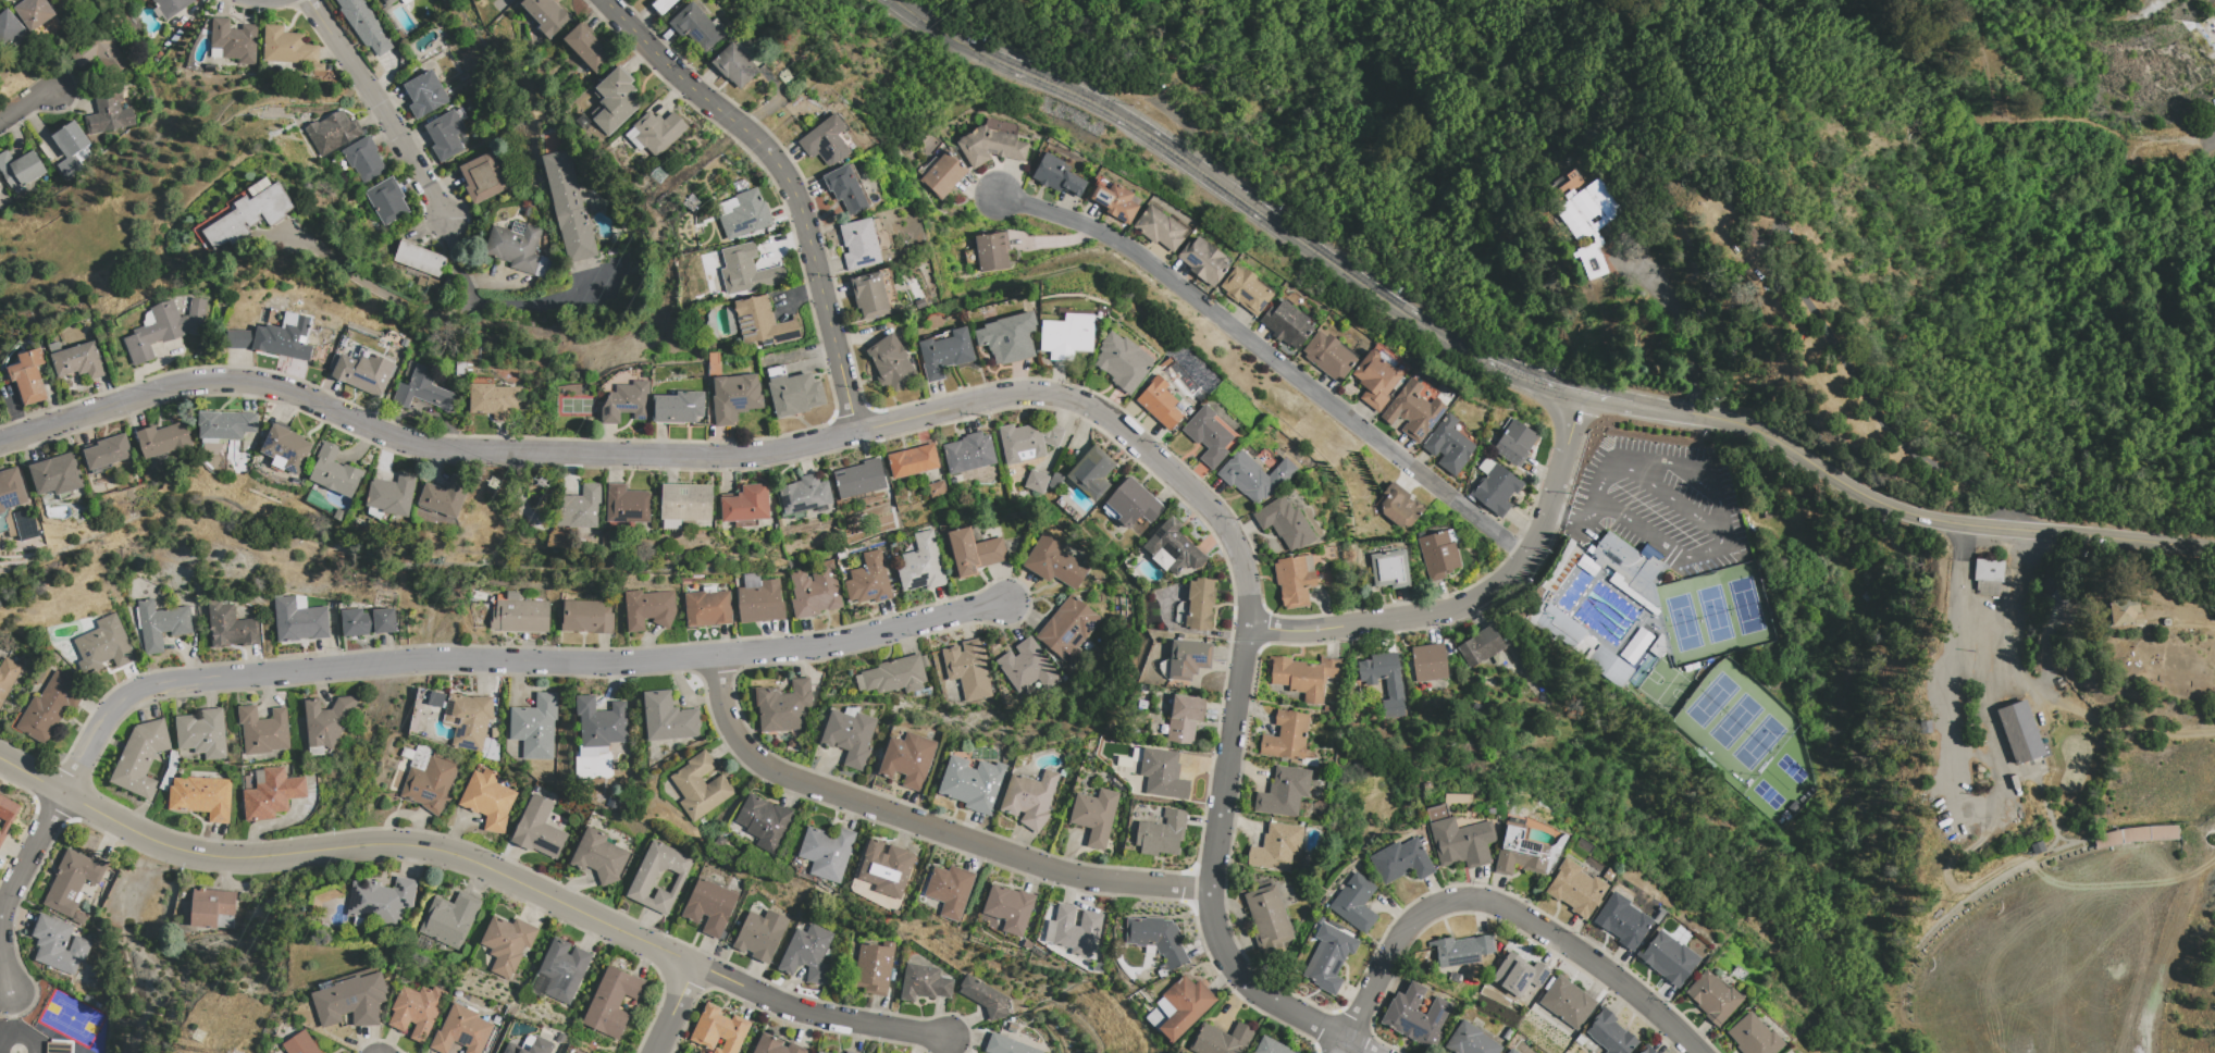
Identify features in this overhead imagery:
building: (389, 2)
building: (664, 5)
building: (170, 7)
park: (977, 7)
building: (34, 13)
dam: (2205, 14)
building: (547, 15)
building: (540, 18)
building: (366, 24)
building: (696, 27)
building: (8, 28)
building: (234, 40)
building: (289, 48)
building: (100, 49)
building: (587, 49)
building: (215, 52)
building: (735, 65)
building: (425, 94)
building: (616, 100)
road: (26, 104)
road: (379, 106)
building: (108, 112)
road: (2050, 120)
building: (658, 132)
building: (333, 133)
building: (445, 135)
building: (827, 141)
building: (991, 146)
building: (71, 148)
building: (82, 154)
building: (364, 159)
road: (1191, 165)
building: (21, 169)
building: (944, 174)
building: (1055, 174)
power tower: (666, 177)
building: (483, 178)
road: (787, 182)
building: (260, 187)
building: (847, 189)
building: (387, 200)
building: (1114, 201)
power tower: (694, 203)
building: (729, 206)
building: (569, 207)
building: (746, 215)
building: (247, 216)
building: (1585, 218)
building: (1160, 228)
building: (861, 244)
building: (516, 246)
building: (989, 251)
building: (419, 258)
building: (1204, 261)
building: (541, 267)
building: (747, 271)
building: (426, 282)
building: (1246, 289)
building: (870, 295)
building: (920, 303)
road: (495, 305)
building: (764, 322)
road: (1680, 322)
building: (1287, 324)
building: (164, 329)
building: (1067, 336)
building: (240, 338)
building: (284, 338)
building: (1010, 338)
building: (404, 343)
building: (945, 354)
building: (1329, 356)
building: (76, 360)
road: (1275, 361)
building: (1123, 362)
building: (891, 363)
building: (472, 367)
building: (461, 370)
building: (363, 372)
road: (1526, 374)
building: (29, 376)
building: (1376, 380)
building: (423, 392)
building: (795, 394)
building: (734, 398)
building: (493, 399)
building: (627, 402)
building: (1160, 404)
building: (679, 407)
building: (1414, 413)
building: (225, 425)
building: (1208, 435)
building: (163, 439)
building: (1028, 442)
building: (1514, 443)
building: (1448, 445)
building: (286, 447)
building: (106, 453)
road: (755, 453)
building: (969, 453)
building: (913, 461)
building: (1486, 466)
building: (335, 472)
building: (1092, 473)
building: (55, 474)
road: (1610, 474)
building: (1254, 476)
building: (859, 479)
building: (1037, 482)
building: (1055, 482)
building: (11, 490)
building: (938, 490)
building: (1496, 490)
building: (805, 494)
building: (392, 495)
road: (1719, 495)
building: (444, 496)
road: (1675, 498)
road: (1873, 500)
building: (686, 503)
building: (1134, 504)
building: (628, 505)
building: (582, 506)
building: (746, 506)
building: (1398, 506)
road: (1592, 513)
building: (339, 515)
road: (1564, 518)
building: (1285, 524)
road: (1637, 530)
building: (1173, 546)
road: (2202, 546)
building: (973, 552)
building: (1438, 555)
building: (1053, 562)
building: (920, 563)
building: (1390, 569)
building: (1629, 569)
building: (1988, 577)
building: (868, 580)
building: (1295, 581)
building: (814, 591)
road: (1481, 596)
building: (758, 599)
building: (1199, 604)
building: (706, 607)
building: (647, 608)
building: (2124, 612)
building: (519, 616)
building: (585, 617)
building: (298, 620)
building: (366, 621)
road: (1982, 622)
building: (160, 624)
building: (228, 627)
building: (1067, 629)
building: (1580, 644)
building: (103, 645)
building: (1480, 646)
building: (1187, 659)
road: (507, 660)
building: (1427, 662)
building: (1026, 667)
building: (967, 669)
building: (893, 676)
building: (1303, 677)
building: (7, 678)
building: (1391, 685)
road: (1984, 695)
building: (783, 706)
building: (48, 707)
building: (667, 718)
building: (1184, 718)
road: (2096, 719)
building: (326, 720)
building: (470, 723)
building: (598, 726)
building: (534, 727)
building: (262, 730)
building: (2019, 732)
building: (201, 733)
building: (1285, 735)
building: (849, 736)
building: (139, 757)
building: (907, 759)
building: (1162, 773)
building: (428, 778)
building: (398, 780)
building: (973, 783)
building: (698, 786)
building: (1283, 792)
building: (271, 794)
building: (200, 797)
building: (1028, 798)
building: (486, 800)
building: (7, 809)
building: (1093, 816)
building: (764, 821)
road: (926, 823)
building: (537, 829)
building: (1, 834)
building: (1161, 834)
building: (2134, 835)
building: (1461, 842)
building: (1275, 847)
building: (826, 852)
building: (1519, 852)
building: (597, 856)
building: (1400, 862)
road: (477, 864)
building: (884, 867)
building: (658, 878)
building: (72, 883)
road: (13, 887)
building: (1574, 889)
building: (949, 890)
building: (380, 901)
building: (1353, 903)
building: (209, 906)
building: (708, 906)
building: (1008, 908)
building: (448, 919)
building: (1267, 919)
building: (1622, 920)
building: (1076, 930)
building: (759, 934)
building: (1155, 939)
building: (506, 943)
building: (58, 944)
road: (1222, 949)
building: (1460, 950)
building: (806, 954)
road: (1583, 954)
building: (1327, 958)
building: (1668, 958)
building: (873, 967)
road: (1384, 968)
building: (559, 971)
building: (1518, 975)
building: (923, 983)
building: (983, 998)
building: (1711, 998)
building: (350, 1001)
building: (610, 1003)
building: (1567, 1003)
building: (1184, 1005)
road: (672, 1008)
building: (416, 1011)
building: (1414, 1016)
building: (460, 1030)
building: (717, 1030)
power tower: (202, 1033)
building: (1610, 1035)
building: (1753, 1037)
building: (1220, 1039)
building: (1469, 1041)
building: (299, 1043)
building: (530, 1045)
building: (774, 1045)
building: (1006, 1045)
building: (1270, 1046)
building: (57, 1048)
building: (1510, 1051)
building: (1647, 1051)
building: (818, 1052)
building: (849, 1052)

